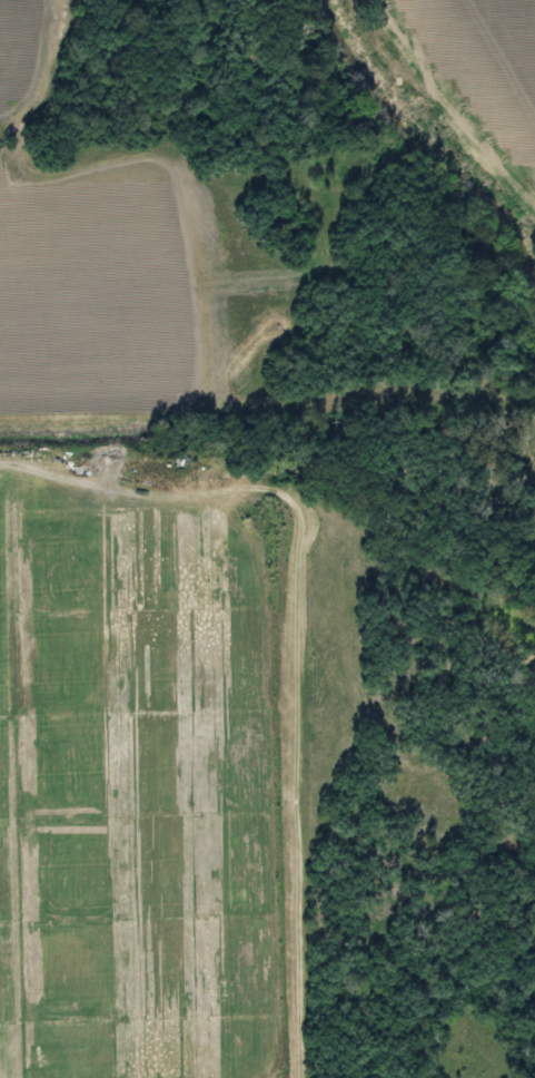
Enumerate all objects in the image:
road: (148, 479)
road: (290, 793)

